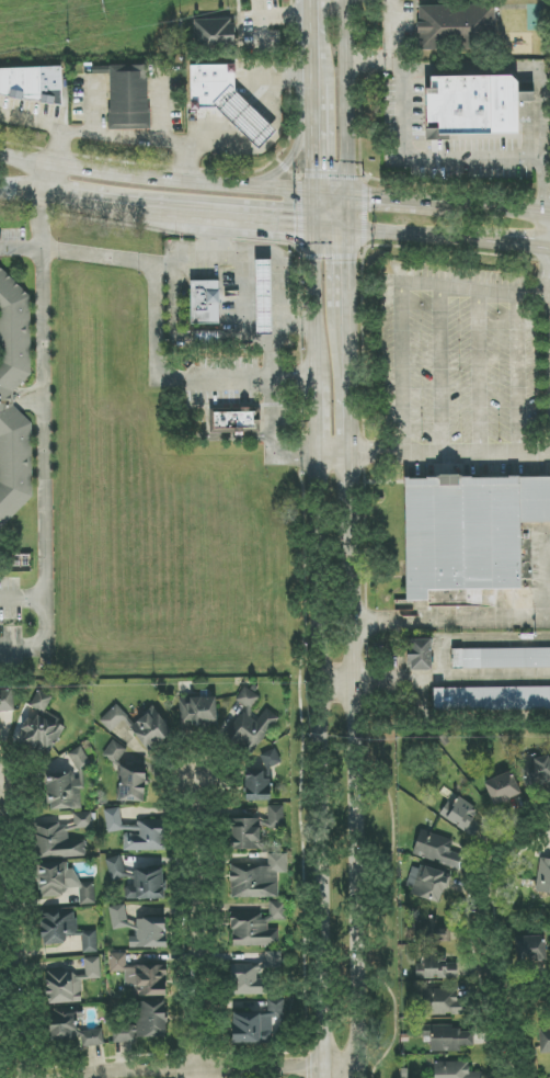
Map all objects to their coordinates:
power tower: (100, 5)
road: (280, 16)
building: (454, 24)
road: (393, 31)
building: (214, 33)
road: (513, 68)
road: (275, 79)
building: (31, 83)
building: (129, 98)
road: (347, 99)
building: (227, 101)
building: (473, 105)
road: (244, 117)
road: (114, 133)
road: (210, 134)
road: (54, 147)
road: (428, 158)
traffic signals: (318, 171)
road: (159, 180)
road: (46, 181)
road: (22, 193)
traffic signals: (370, 200)
road: (377, 200)
road: (119, 209)
road: (493, 211)
road: (43, 224)
road: (257, 225)
traffic signals: (293, 228)
road: (334, 230)
road: (449, 239)
road: (351, 256)
road: (181, 261)
road: (277, 261)
traffic signals: (352, 266)
road: (545, 275)
road: (475, 288)
building: (263, 297)
building: (205, 302)
building: (207, 339)
road: (271, 352)
road: (400, 371)
road: (295, 376)
road: (165, 381)
road: (354, 386)
building: (7, 399)
road: (45, 402)
building: (232, 421)
road: (452, 454)
road: (340, 457)
building: (469, 531)
road: (326, 538)
road: (532, 574)
road: (23, 599)
road: (456, 623)
road: (345, 625)
road: (47, 646)
building: (420, 655)
building: (501, 658)
road: (455, 677)
road: (345, 685)
building: (492, 699)
building: (7, 700)
building: (198, 711)
building: (250, 724)
building: (42, 726)
building: (139, 726)
building: (115, 752)
building: (78, 757)
road: (362, 760)
building: (535, 770)
building: (259, 776)
building: (131, 783)
building: (502, 787)
building: (65, 790)
building: (459, 814)
building: (275, 817)
building: (83, 820)
road: (537, 827)
building: (137, 832)
building: (244, 835)
building: (56, 843)
building: (435, 849)
building: (543, 876)
building: (257, 878)
building: (138, 881)
building: (62, 883)
building: (426, 883)
building: (118, 917)
building: (57, 927)
building: (256, 927)
road: (188, 928)
building: (429, 931)
building: (149, 933)
building: (90, 942)
road: (484, 946)
building: (530, 949)
road: (7, 957)
building: (435, 967)
building: (254, 975)
building: (140, 976)
building: (71, 983)
building: (443, 1002)
road: (524, 1002)
building: (151, 1019)
building: (256, 1024)
building: (73, 1029)
building: (124, 1032)
building: (449, 1037)
building: (545, 1040)
road: (222, 1067)
road: (363, 1070)
building: (454, 1070)

